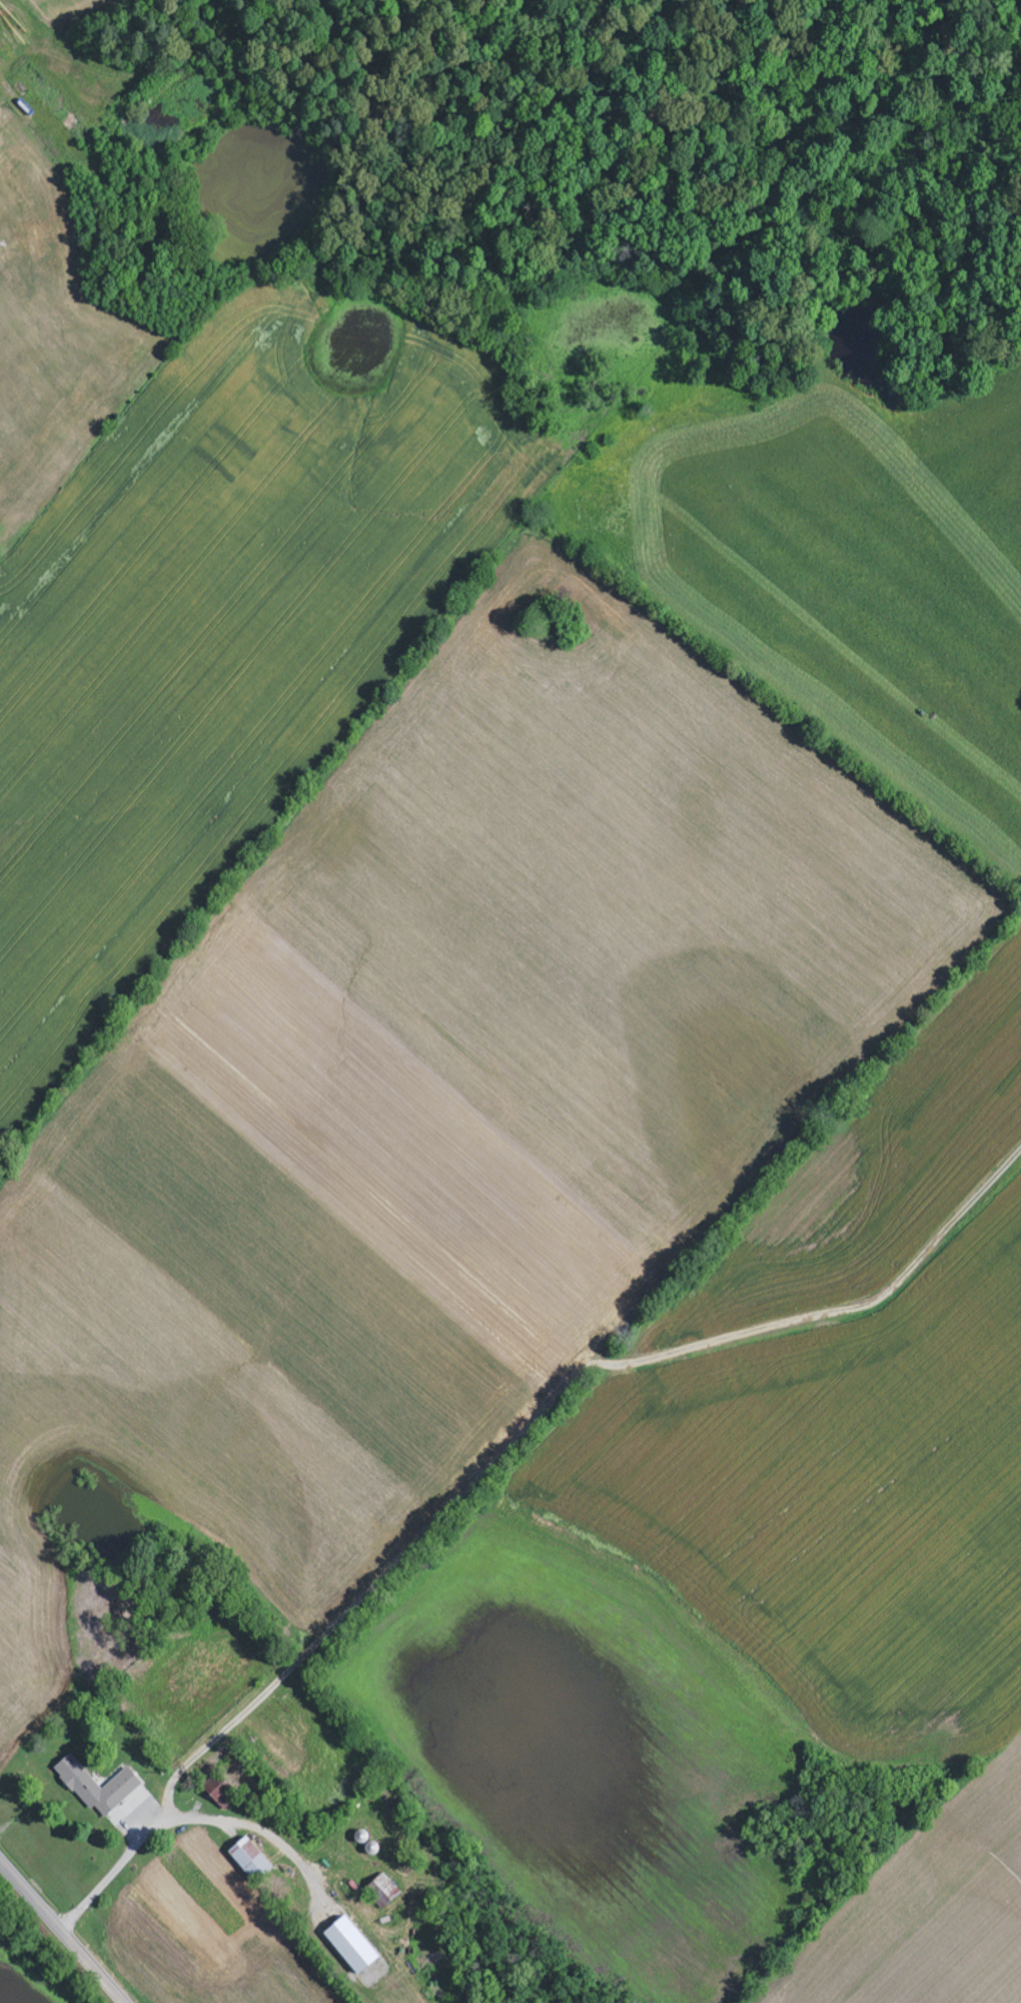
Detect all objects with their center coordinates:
building: (107, 1791)
building: (229, 1796)
building: (255, 1859)
building: (386, 1891)
road: (64, 1929)
building: (356, 1945)

